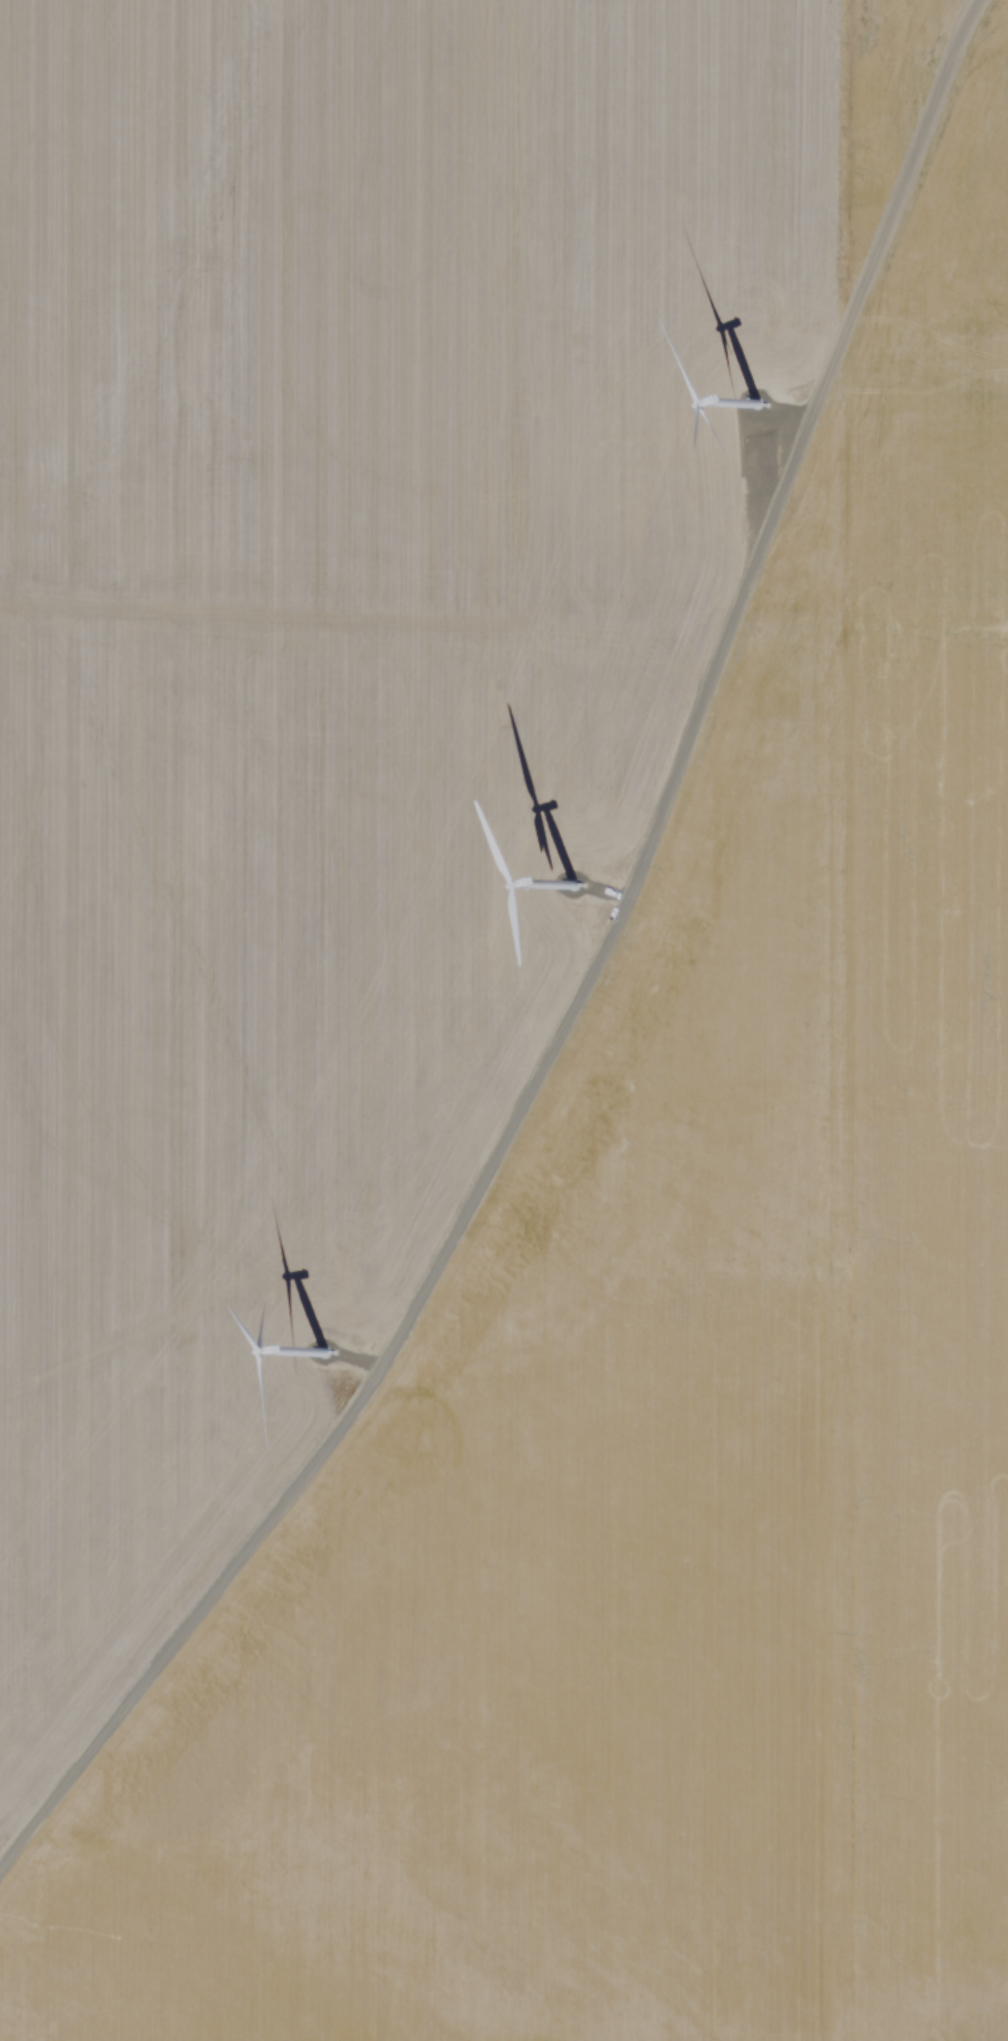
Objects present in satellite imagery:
wind turbine: (748, 413)
wind turbine: (562, 897)
road: (575, 978)
wind turbine: (297, 1362)

